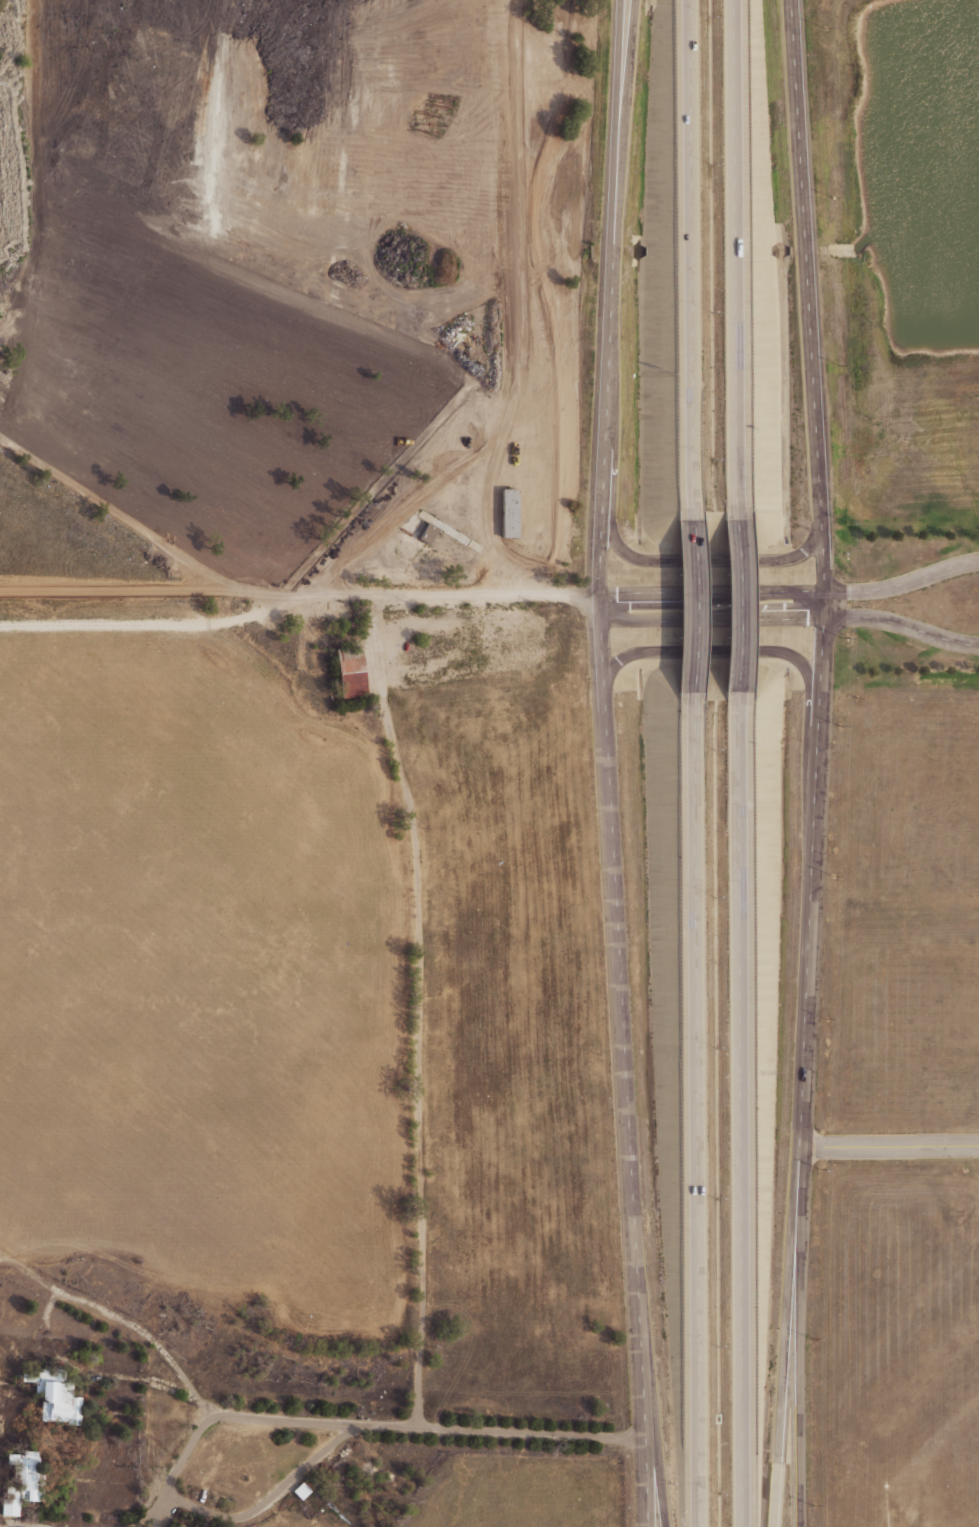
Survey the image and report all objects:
road: (629, 45)
road: (692, 257)
road: (734, 257)
road: (809, 295)
building: (506, 512)
road: (133, 524)
building: (424, 532)
road: (712, 560)
road: (903, 582)
road: (712, 593)
road: (297, 597)
road: (694, 607)
road: (737, 607)
road: (713, 617)
road: (903, 625)
road: (717, 651)
building: (346, 671)
road: (605, 763)
road: (417, 1052)
road: (806, 1059)
road: (698, 1113)
road: (741, 1113)
road: (889, 1145)
road: (27, 1269)
road: (137, 1329)
road: (785, 1381)
building: (51, 1396)
road: (363, 1425)
road: (654, 1429)
road: (172, 1472)
building: (21, 1480)
building: (298, 1491)
road: (267, 1500)
road: (25, 1524)
building: (172, 1525)

